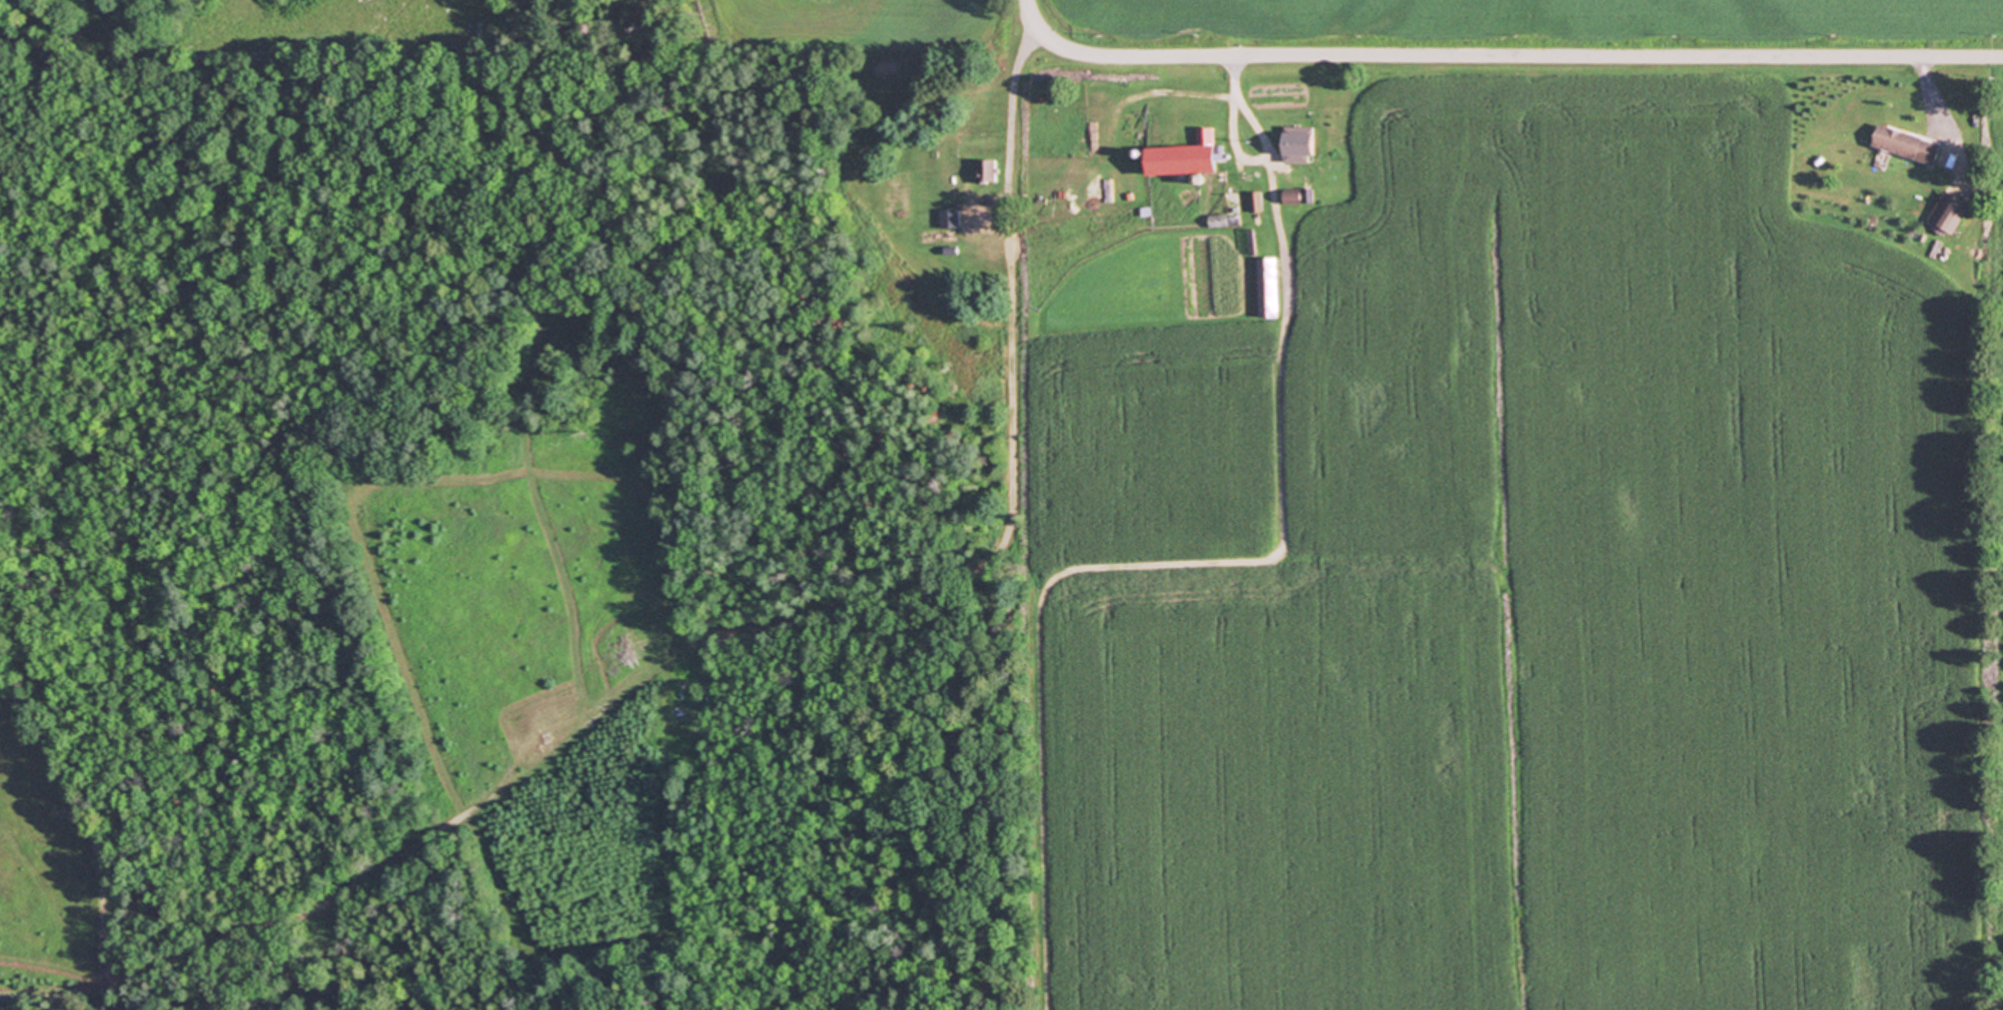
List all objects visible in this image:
road: (1502, 54)
road: (1933, 90)
road: (1011, 117)
building: (1904, 143)
building: (1296, 145)
building: (1182, 154)
road: (1243, 157)
building: (987, 170)
building: (1256, 200)
building: (1227, 211)
building: (1946, 213)
building: (952, 218)
road: (1153, 565)

